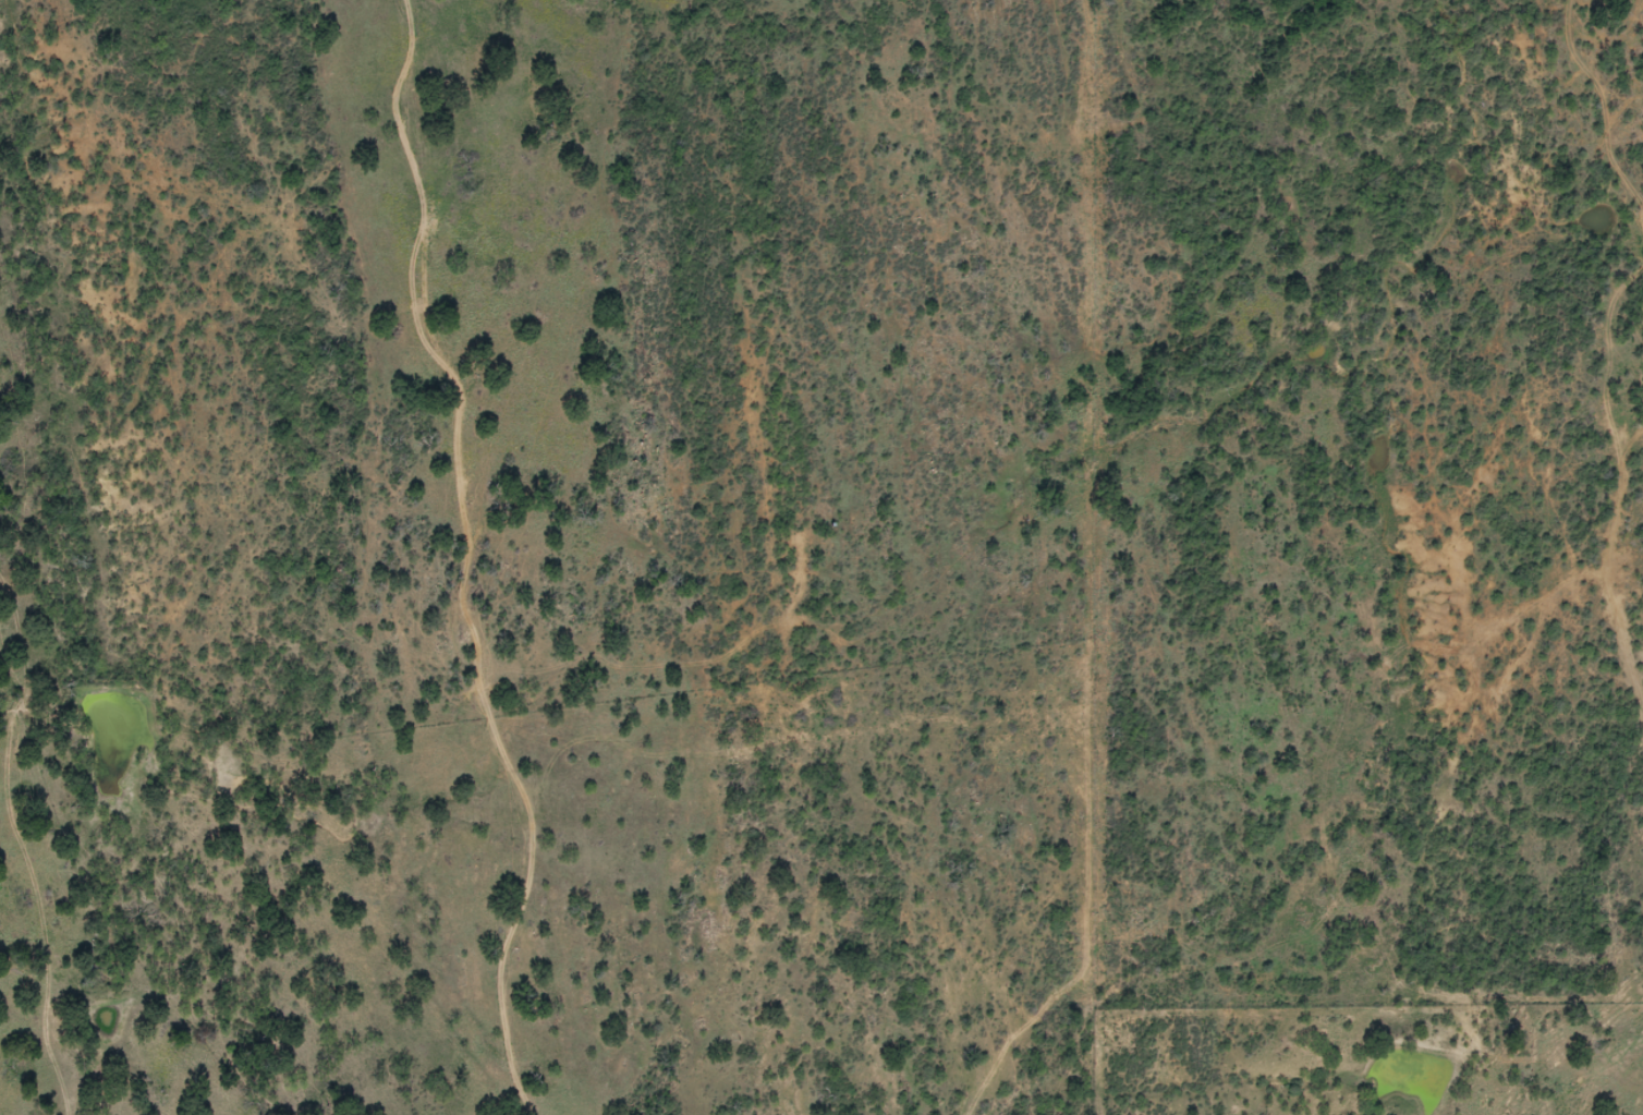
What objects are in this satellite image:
road: (459, 566)

